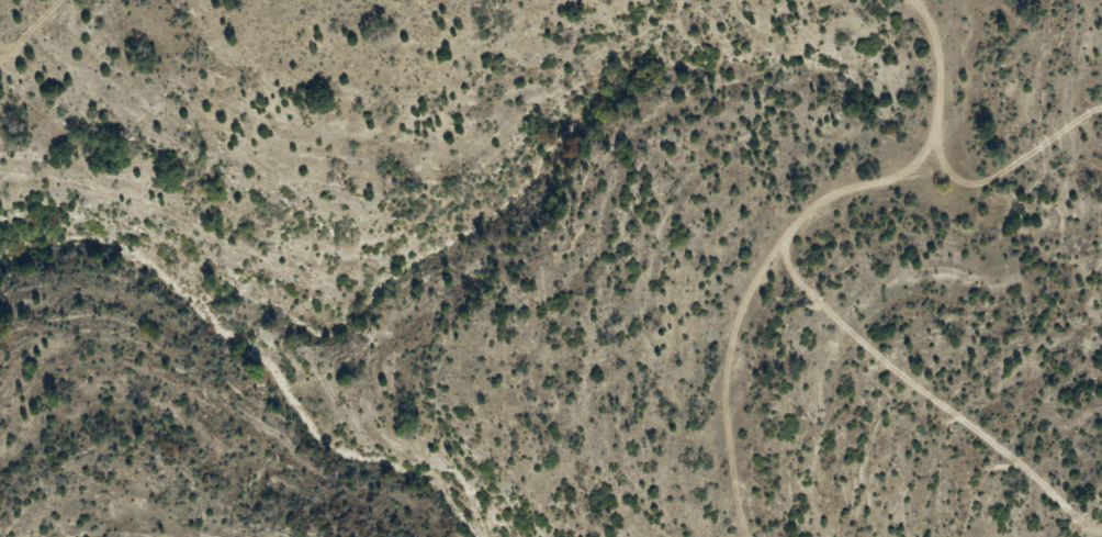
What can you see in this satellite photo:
road: (947, 83)
road: (817, 238)

